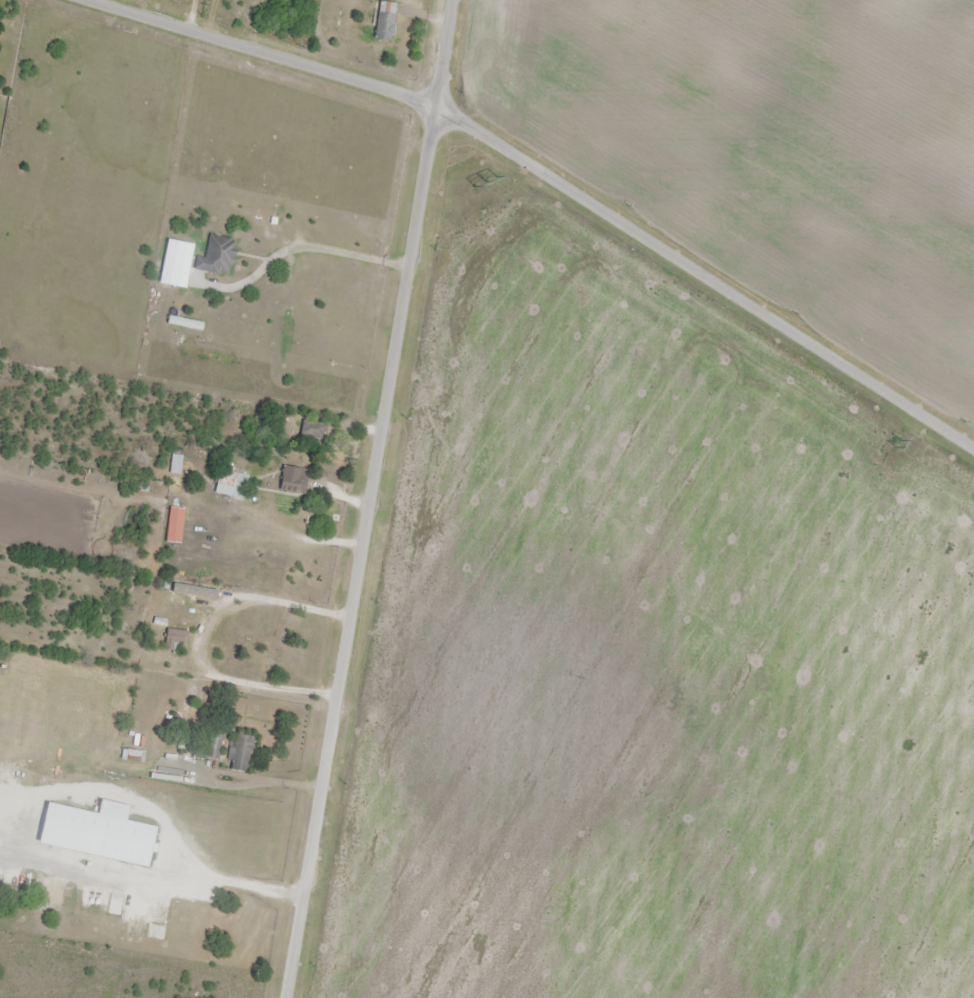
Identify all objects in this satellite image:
building: (385, 21)
road: (539, 176)
power tower: (483, 181)
road: (294, 248)
building: (216, 257)
power tower: (895, 444)
building: (176, 465)
building: (294, 481)
building: (231, 485)
road: (366, 499)
building: (175, 642)
building: (104, 836)
building: (48, 893)

